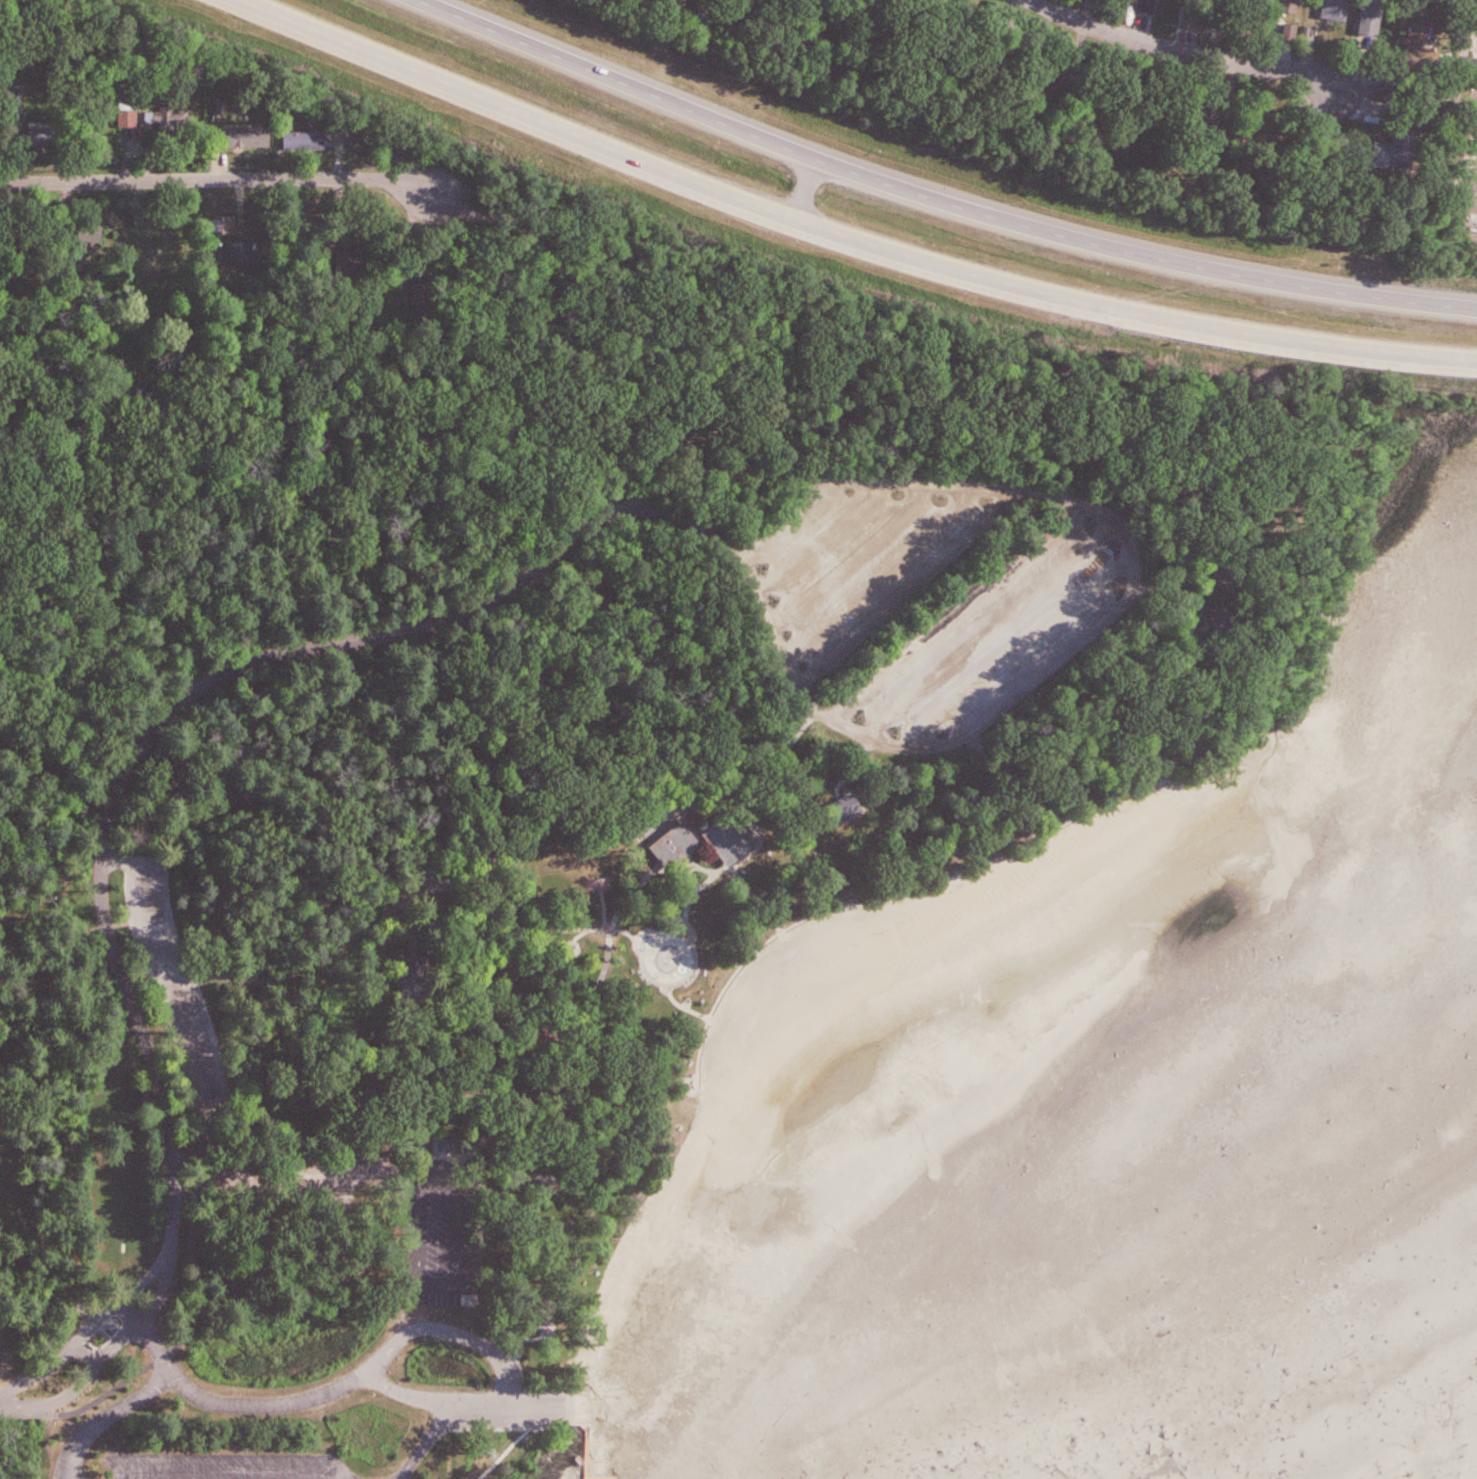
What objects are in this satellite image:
building: (712, 7)
building: (1150, 7)
building: (1200, 18)
building: (1423, 36)
road: (1179, 50)
building: (150, 118)
building: (246, 137)
building: (36, 140)
building: (307, 146)
building: (1404, 149)
road: (219, 180)
road: (935, 199)
building: (91, 235)
road: (841, 235)
building: (243, 254)
building: (173, 259)
building: (360, 276)
road: (691, 524)
road: (831, 543)
road: (882, 568)
road: (987, 624)
road: (1021, 651)
building: (848, 809)
park: (572, 817)
building: (679, 843)
building: (738, 847)
road: (457, 1175)
road: (483, 1344)
road: (67, 1354)
road: (81, 1380)
road: (118, 1389)
road: (284, 1405)
road: (467, 1407)
road: (109, 1415)
road: (427, 1445)
parking lot: (227, 1466)

